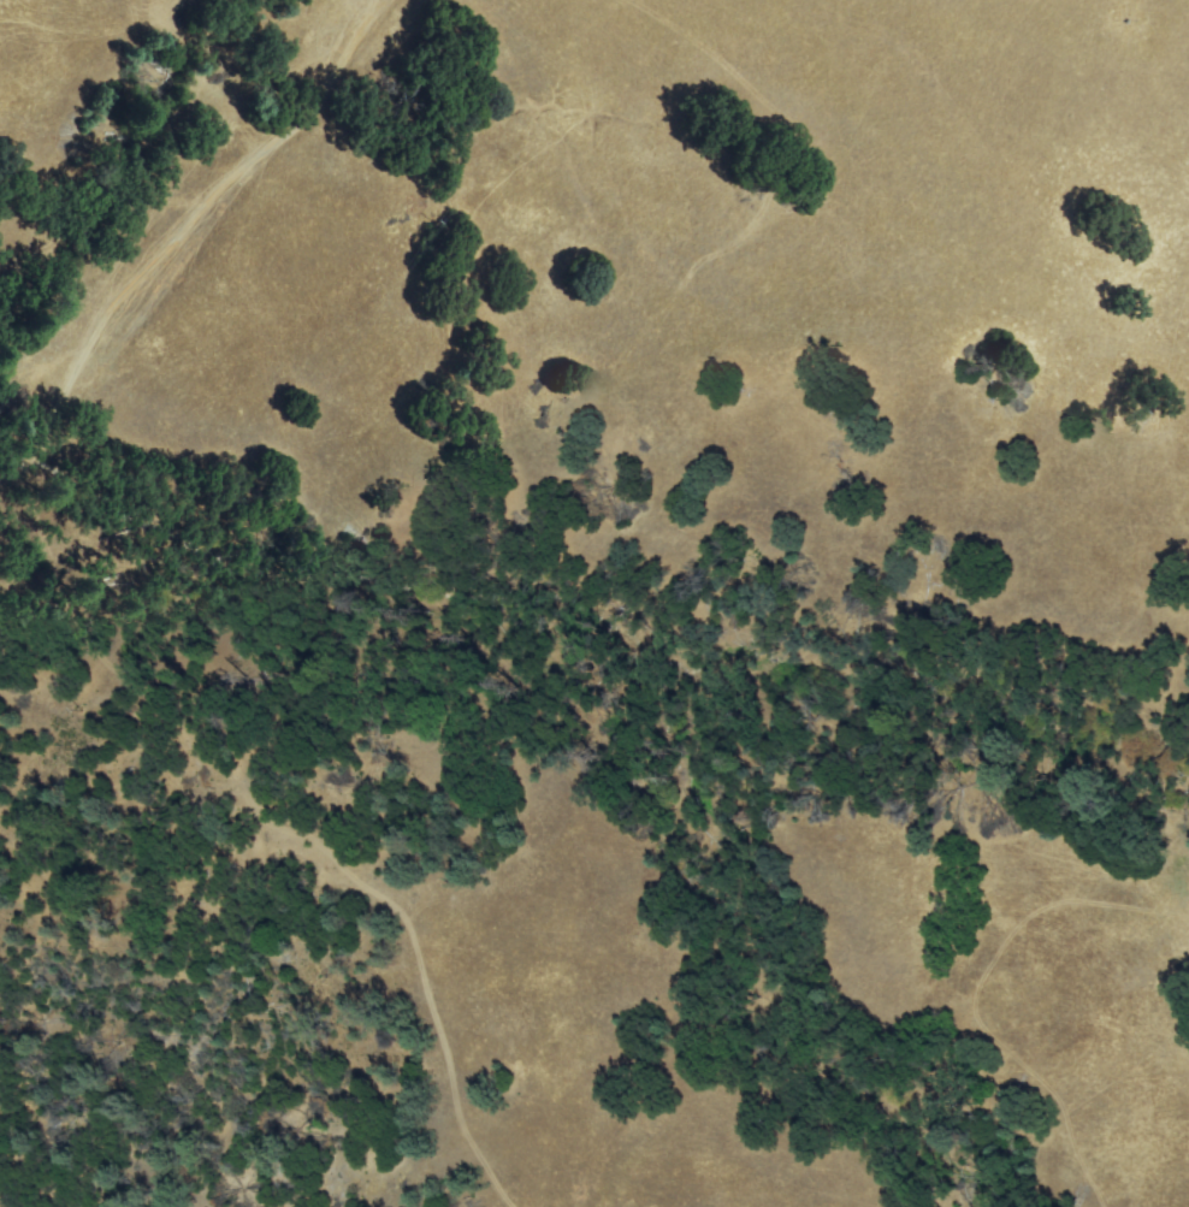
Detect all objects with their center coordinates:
road: (187, 233)

